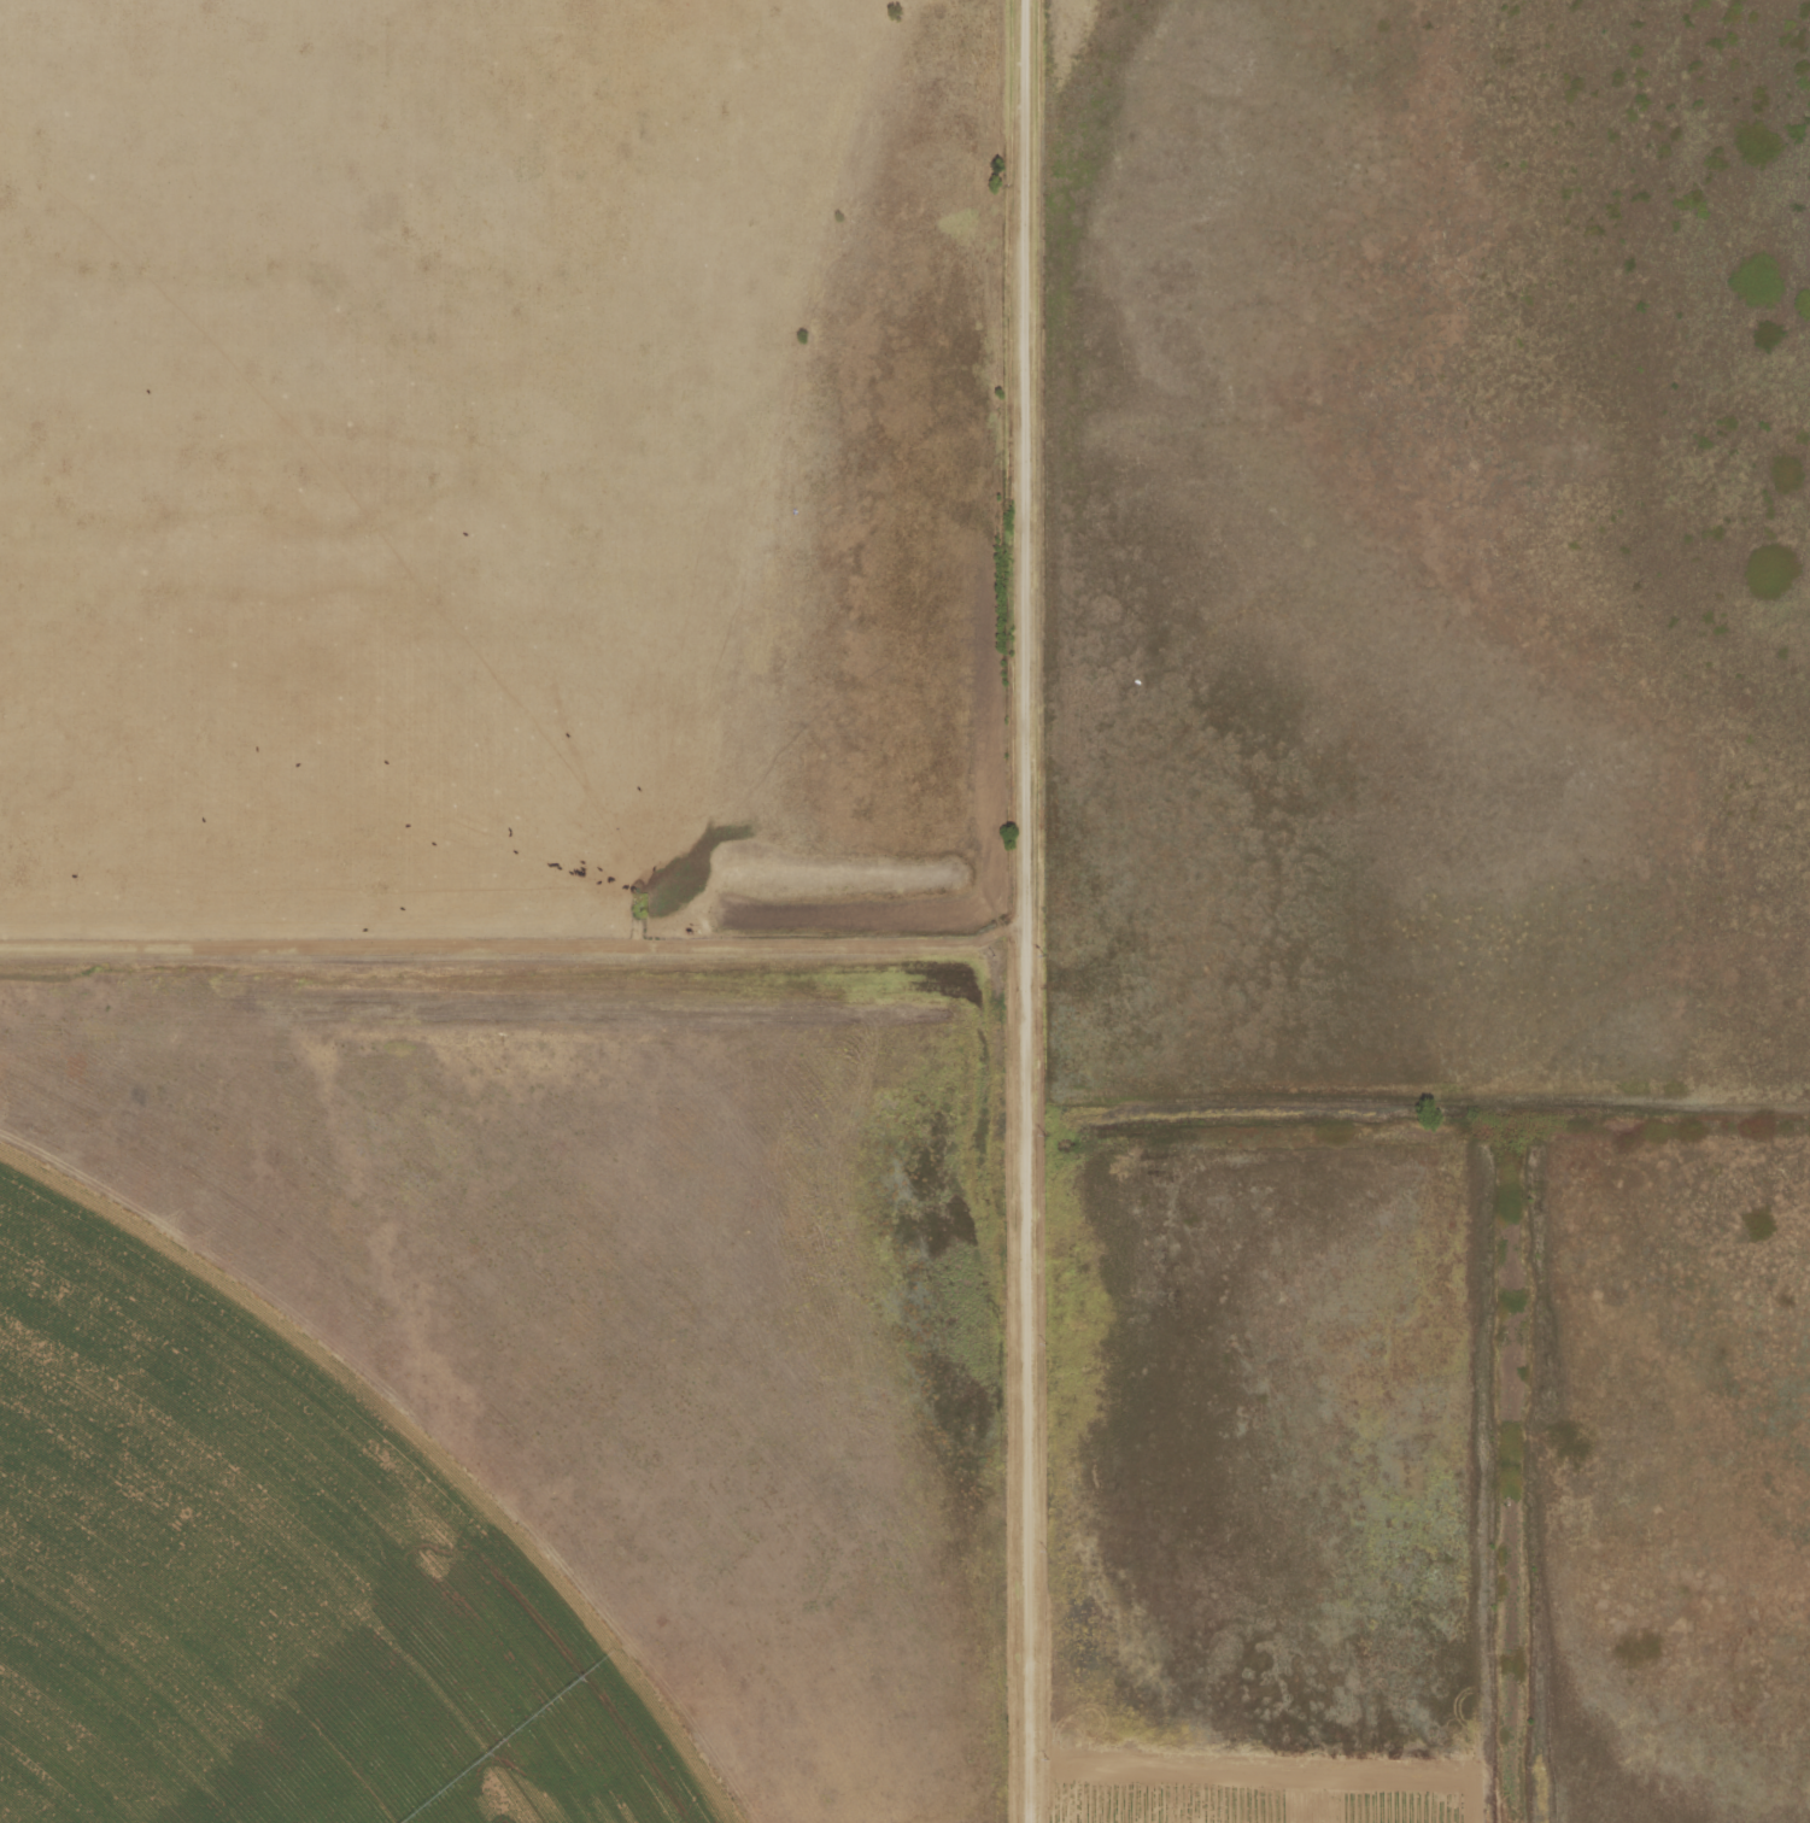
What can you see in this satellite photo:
road: (1027, 910)
road: (514, 936)

